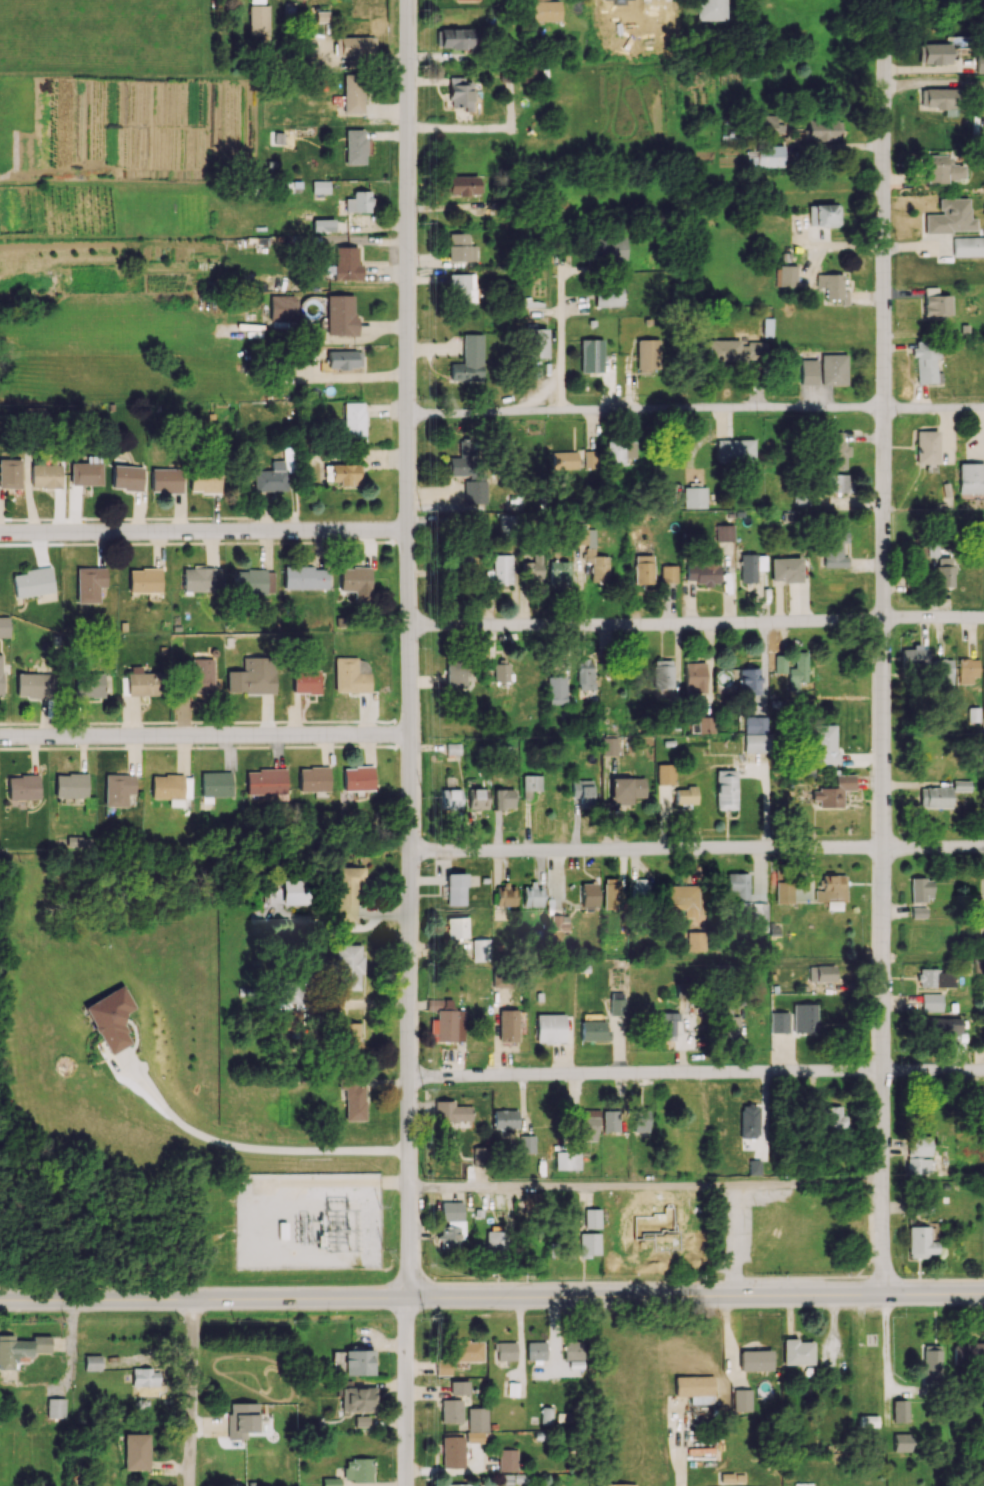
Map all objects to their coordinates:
building: (465, 0)
building: (539, 0)
building: (711, 9)
building: (545, 11)
building: (322, 16)
building: (258, 19)
building: (454, 38)
building: (355, 46)
building: (934, 53)
building: (526, 72)
road: (935, 88)
building: (352, 93)
building: (458, 93)
building: (941, 100)
building: (774, 124)
building: (823, 130)
road: (480, 133)
building: (354, 146)
building: (765, 156)
building: (942, 169)
building: (464, 185)
building: (320, 187)
building: (358, 202)
building: (823, 215)
building: (950, 217)
building: (322, 225)
building: (967, 246)
building: (461, 248)
building: (607, 249)
building: (346, 264)
building: (786, 275)
building: (832, 287)
building: (461, 288)
building: (607, 296)
building: (935, 303)
building: (282, 307)
building: (340, 314)
road: (562, 327)
building: (535, 343)
building: (722, 350)
building: (590, 355)
building: (647, 355)
building: (343, 359)
building: (468, 360)
building: (926, 361)
building: (832, 369)
building: (808, 372)
road: (695, 412)
building: (353, 422)
building: (926, 449)
building: (734, 450)
building: (834, 450)
building: (619, 452)
building: (461, 460)
building: (564, 460)
building: (10, 473)
building: (85, 473)
building: (342, 474)
building: (45, 475)
building: (127, 477)
building: (971, 478)
building: (165, 480)
building: (204, 482)
building: (835, 483)
building: (474, 493)
building: (694, 496)
building: (723, 532)
road: (204, 534)
building: (581, 536)
building: (835, 549)
building: (460, 559)
building: (596, 565)
building: (704, 568)
building: (748, 568)
building: (502, 569)
building: (532, 569)
building: (785, 569)
building: (643, 570)
building: (558, 572)
building: (944, 572)
building: (668, 573)
building: (304, 577)
building: (196, 578)
building: (354, 579)
building: (144, 580)
building: (253, 581)
building: (33, 583)
building: (89, 583)
road: (696, 623)
building: (4, 626)
road: (885, 647)
road: (408, 648)
building: (914, 655)
building: (779, 664)
building: (797, 670)
building: (966, 671)
building: (500, 672)
building: (941, 672)
building: (455, 673)
building: (662, 673)
building: (0, 674)
building: (585, 674)
building: (201, 675)
building: (253, 676)
building: (349, 676)
building: (694, 678)
building: (141, 681)
building: (748, 681)
building: (305, 682)
building: (89, 684)
building: (33, 685)
building: (556, 690)
building: (755, 724)
building: (703, 725)
road: (205, 739)
building: (755, 742)
building: (824, 743)
building: (609, 746)
building: (665, 774)
building: (358, 778)
building: (313, 779)
building: (265, 781)
building: (215, 784)
building: (70, 785)
building: (532, 786)
building: (22, 787)
building: (170, 788)
building: (117, 789)
building: (726, 789)
building: (625, 790)
building: (582, 792)
building: (833, 792)
building: (685, 795)
building: (934, 797)
building: (477, 798)
building: (503, 798)
building: (450, 799)
road: (696, 850)
building: (737, 886)
building: (455, 889)
building: (640, 889)
building: (920, 889)
building: (829, 890)
building: (347, 891)
building: (295, 892)
building: (783, 892)
building: (611, 893)
building: (504, 895)
building: (588, 895)
building: (531, 896)
building: (683, 899)
building: (759, 912)
building: (917, 912)
building: (457, 927)
building: (696, 941)
building: (480, 949)
building: (348, 967)
building: (825, 973)
building: (936, 978)
building: (500, 980)
building: (931, 1002)
building: (616, 1003)
building: (982, 1012)
building: (805, 1018)
building: (110, 1019)
building: (446, 1021)
building: (728, 1021)
building: (778, 1022)
building: (666, 1023)
building: (508, 1025)
building: (549, 1028)
building: (943, 1029)
building: (594, 1030)
building: (348, 1036)
road: (696, 1074)
building: (353, 1100)
building: (451, 1111)
building: (828, 1117)
building: (504, 1118)
building: (640, 1121)
building: (749, 1121)
building: (588, 1125)
building: (526, 1144)
road: (256, 1147)
building: (480, 1156)
building: (567, 1160)
building: (916, 1165)
building: (754, 1167)
road: (299, 1184)
road: (646, 1186)
power tower: (351, 1209)
building: (591, 1218)
building: (452, 1224)
road: (733, 1240)
building: (493, 1242)
building: (920, 1242)
building: (588, 1244)
power tower: (351, 1246)
road: (695, 1281)
road: (491, 1296)
building: (20, 1349)
building: (535, 1350)
building: (574, 1350)
building: (467, 1351)
building: (506, 1351)
building: (797, 1352)
building: (968, 1353)
building: (754, 1360)
building: (92, 1362)
building: (358, 1362)
building: (930, 1364)
building: (442, 1367)
building: (144, 1377)
building: (693, 1385)
building: (459, 1387)
road: (407, 1391)
road: (191, 1392)
building: (357, 1399)
building: (55, 1407)
building: (451, 1411)
building: (899, 1411)
building: (546, 1415)
building: (241, 1419)
building: (361, 1421)
building: (867, 1421)
building: (476, 1424)
building: (901, 1442)
road: (684, 1449)
building: (135, 1451)
building: (452, 1452)
building: (507, 1460)
building: (357, 1470)
building: (330, 1482)
building: (619, 1484)
building: (462, 1485)

